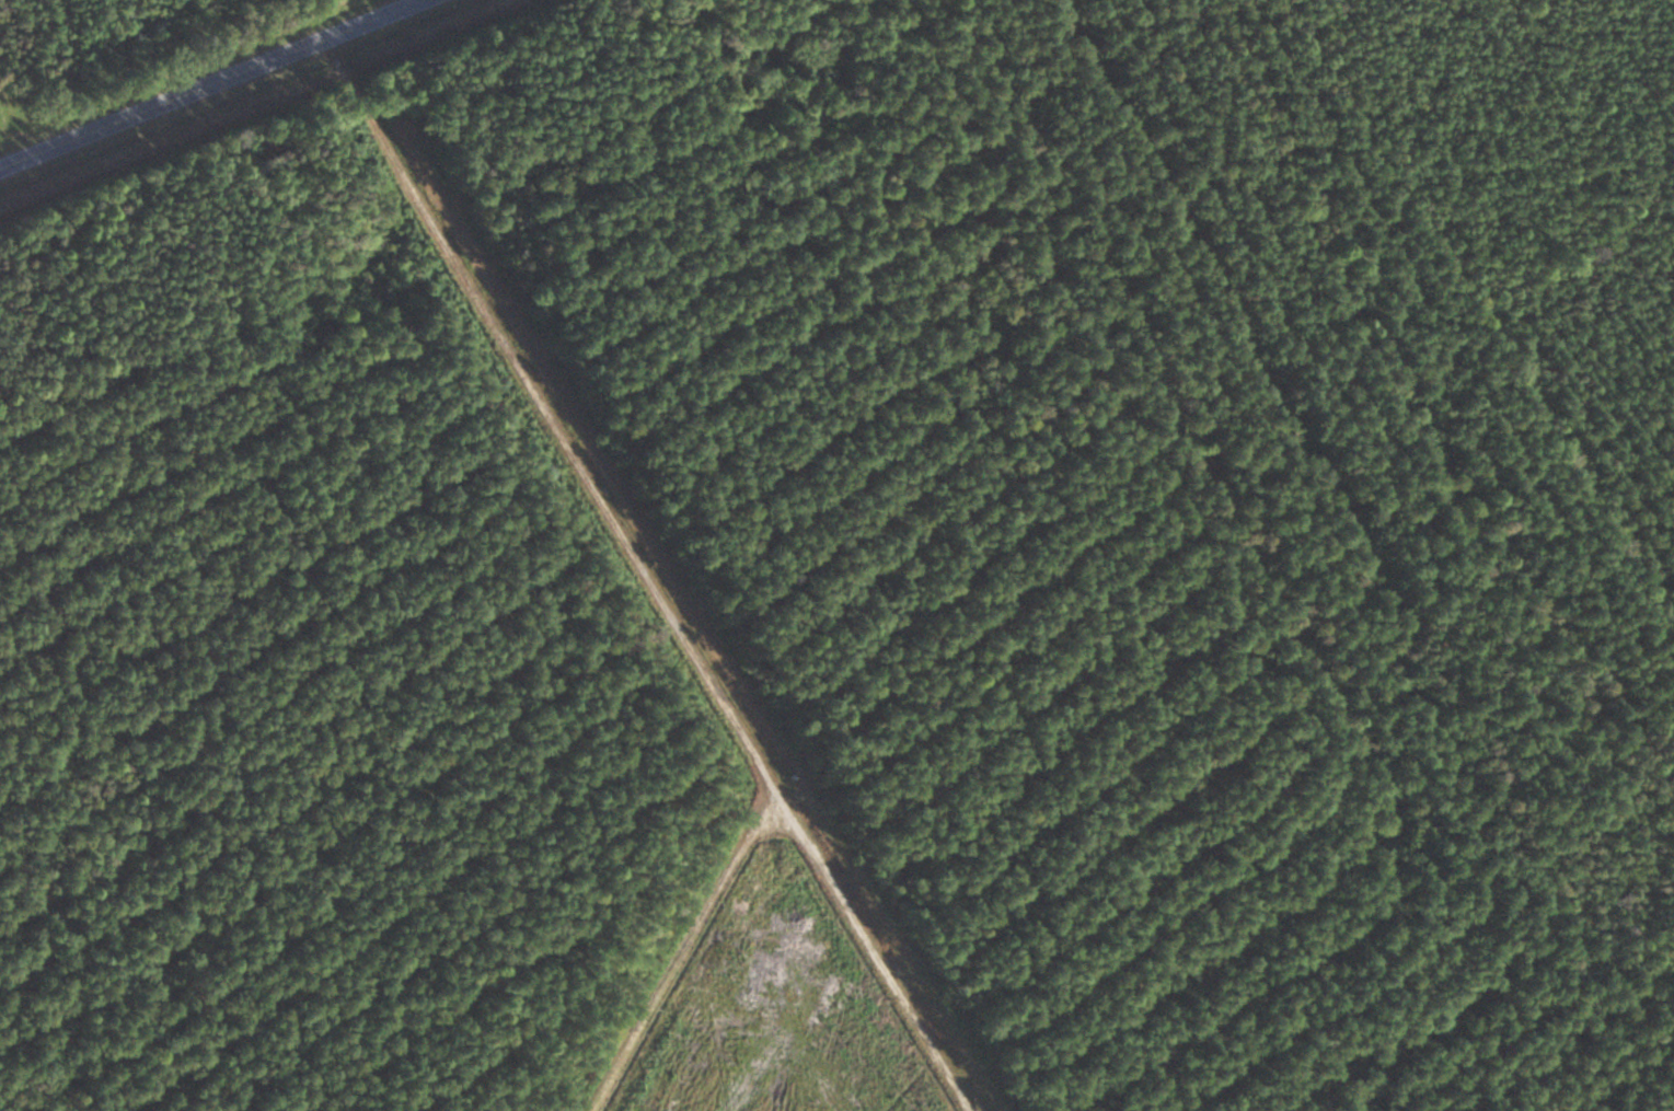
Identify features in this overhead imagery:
road: (208, 83)

